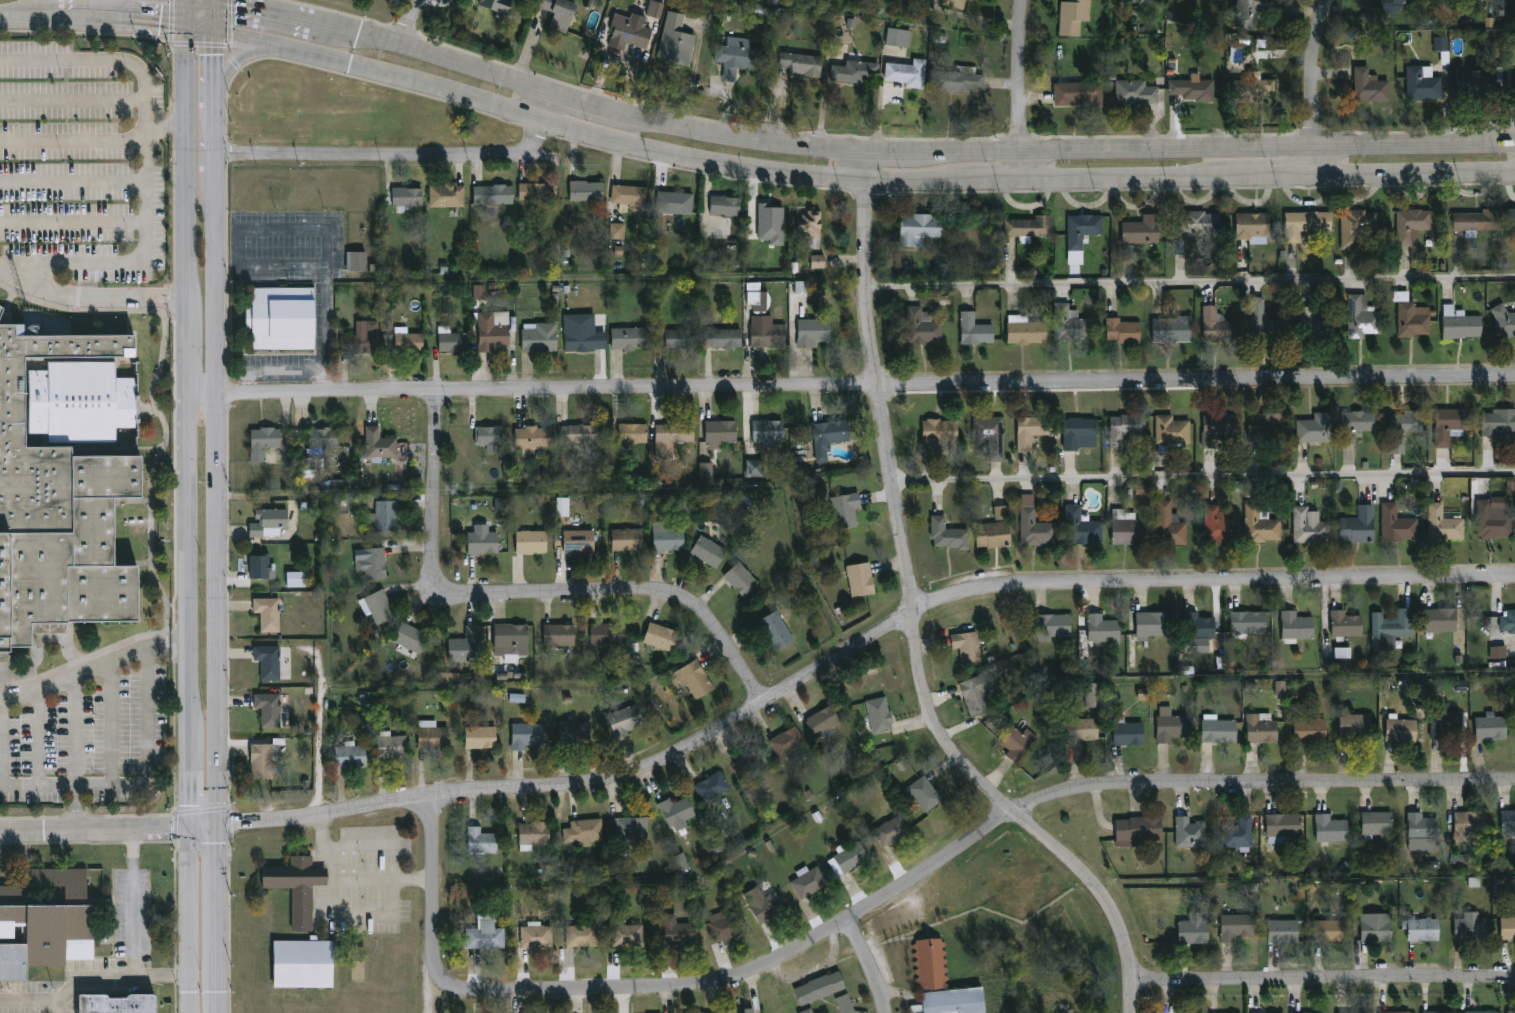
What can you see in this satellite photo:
road: (181, 1)
road: (189, 1)
building: (1503, 1)
traffic signals: (189, 2)
building: (956, 3)
road: (203, 4)
building: (497, 5)
building: (1394, 5)
traffic signals: (218, 6)
building: (655, 9)
building: (1248, 12)
building: (560, 13)
building: (1074, 15)
road: (188, 17)
road: (264, 17)
road: (217, 19)
road: (31, 22)
road: (125, 26)
road: (415, 26)
building: (630, 31)
traffic signals: (187, 33)
building: (897, 36)
traffic signals: (218, 38)
building: (676, 38)
building: (1441, 43)
building: (739, 56)
road: (86, 60)
road: (234, 63)
building: (803, 63)
building: (856, 71)
building: (908, 71)
building: (957, 79)
building: (1424, 82)
building: (1370, 83)
building: (1477, 85)
building: (1194, 88)
road: (1317, 88)
building: (1262, 90)
road: (1022, 91)
road: (218, 92)
building: (1079, 92)
building: (1136, 92)
road: (72, 99)
road: (552, 109)
road: (146, 119)
road: (578, 133)
road: (73, 140)
road: (218, 152)
road: (904, 153)
road: (386, 159)
parking lot: (81, 164)
road: (188, 164)
road: (1415, 176)
road: (1275, 179)
road: (73, 182)
road: (1128, 182)
road: (999, 184)
building: (538, 190)
building: (586, 190)
building: (494, 194)
building: (407, 195)
building: (447, 195)
building: (631, 197)
building: (676, 202)
building: (726, 204)
building: (1511, 220)
building: (1479, 221)
road: (73, 222)
building: (1197, 222)
building: (771, 223)
building: (1306, 223)
building: (1253, 224)
building: (1413, 224)
building: (1358, 225)
building: (1030, 227)
building: (811, 228)
building: (920, 228)
building: (1083, 229)
building: (1143, 229)
road: (295, 231)
building: (617, 231)
road: (147, 245)
building: (1128, 253)
building: (1075, 257)
building: (356, 261)
building: (818, 261)
road: (219, 275)
road: (1194, 280)
building: (801, 287)
road: (92, 295)
building: (757, 298)
building: (283, 315)
building: (1413, 316)
building: (1363, 317)
building: (1505, 320)
building: (1265, 322)
building: (1070, 323)
building: (1461, 323)
building: (1218, 324)
building: (1317, 324)
building: (923, 326)
building: (494, 329)
building: (976, 329)
building: (1173, 329)
building: (1026, 330)
building: (1123, 330)
building: (813, 331)
building: (767, 332)
building: (631, 336)
building: (539, 337)
building: (723, 337)
building: (362, 338)
building: (681, 338)
building: (581, 340)
building: (454, 341)
building: (410, 342)
road: (192, 345)
road: (285, 371)
road: (868, 384)
road: (207, 393)
building: (1498, 422)
building: (1267, 424)
building: (1357, 424)
building: (1450, 425)
building: (1217, 426)
building: (1126, 427)
building: (1316, 428)
building: (1404, 429)
building: (769, 430)
building: (1031, 430)
building: (721, 432)
building: (1172, 432)
building: (634, 433)
building: (675, 433)
building: (831, 433)
building: (938, 433)
building: (1081, 433)
building: (577, 434)
building: (992, 435)
building: (490, 436)
building: (535, 438)
building: (331, 439)
building: (264, 441)
building: (380, 443)
building: (312, 466)
building: (755, 468)
building: (706, 470)
road: (1204, 474)
building: (64, 483)
building: (844, 510)
building: (1001, 512)
building: (387, 516)
building: (1494, 520)
building: (269, 522)
building: (1221, 523)
building: (1446, 523)
building: (1036, 524)
building: (1262, 524)
building: (1398, 524)
building: (1171, 525)
building: (1310, 526)
building: (1082, 527)
building: (1129, 527)
building: (1358, 529)
building: (949, 534)
building: (994, 534)
building: (628, 539)
building: (669, 539)
building: (532, 541)
building: (580, 541)
building: (484, 542)
building: (709, 551)
building: (371, 561)
building: (262, 566)
building: (296, 579)
building: (741, 579)
building: (861, 579)
road: (527, 596)
building: (381, 607)
road: (220, 609)
building: (268, 613)
road: (917, 618)
building: (1442, 620)
building: (1509, 620)
building: (1153, 623)
building: (1248, 623)
building: (1347, 624)
building: (1054, 625)
building: (1199, 626)
building: (1297, 627)
building: (1104, 628)
building: (1392, 628)
building: (777, 631)
building: (512, 635)
building: (561, 635)
building: (607, 635)
building: (661, 636)
building: (412, 638)
road: (181, 643)
building: (468, 646)
building: (967, 646)
road: (857, 650)
building: (1342, 652)
building: (1498, 652)
building: (268, 661)
road: (85, 669)
building: (696, 679)
building: (1280, 688)
building: (976, 694)
building: (1094, 695)
building: (517, 698)
road: (190, 703)
building: (269, 709)
building: (879, 715)
building: (626, 719)
building: (823, 720)
building: (1445, 720)
road: (110, 721)
building: (1355, 724)
building: (1170, 725)
building: (1492, 726)
road: (75, 729)
building: (1081, 729)
building: (1262, 729)
building: (1402, 729)
building: (1311, 730)
building: (1220, 731)
building: (1127, 732)
building: (577, 733)
building: (434, 734)
building: (529, 735)
building: (482, 737)
road: (36, 738)
road: (1, 741)
building: (788, 742)
building: (1017, 742)
building: (392, 747)
road: (320, 751)
building: (352, 756)
building: (264, 762)
building: (751, 763)
road: (139, 783)
building: (712, 787)
building: (925, 793)
building: (677, 813)
building: (1509, 821)
building: (1378, 824)
building: (1471, 824)
traffic signals: (190, 825)
traffic signals: (219, 825)
building: (1283, 825)
building: (1424, 826)
road: (109, 827)
building: (1330, 828)
building: (632, 829)
building: (1138, 830)
building: (587, 831)
building: (892, 831)
building: (1238, 832)
building: (536, 833)
building: (1190, 833)
road: (133, 841)
building: (482, 841)
road: (376, 843)
road: (950, 853)
building: (849, 859)
building: (682, 861)
road: (435, 869)
road: (365, 879)
building: (59, 881)
building: (809, 883)
building: (296, 886)
road: (220, 907)
building: (768, 908)
road: (134, 916)
road: (350, 916)
building: (722, 926)
building: (1235, 926)
building: (1376, 927)
building: (1470, 927)
building: (1507, 928)
building: (1193, 929)
building: (1423, 929)
building: (1331, 930)
building: (1283, 931)
building: (41, 932)
building: (679, 932)
building: (490, 934)
building: (627, 935)
building: (583, 936)
building: (537, 937)
building: (303, 962)
road: (869, 963)
road: (163, 975)
road: (1323, 981)
building: (943, 982)
building: (820, 988)
road: (67, 991)
road: (222, 1001)
building: (115, 1003)
building: (845, 1004)
building: (740, 1011)
building: (807, 1011)
building: (1298, 1012)
building: (1353, 1012)
building: (1397, 1012)
building: (1438, 1012)

